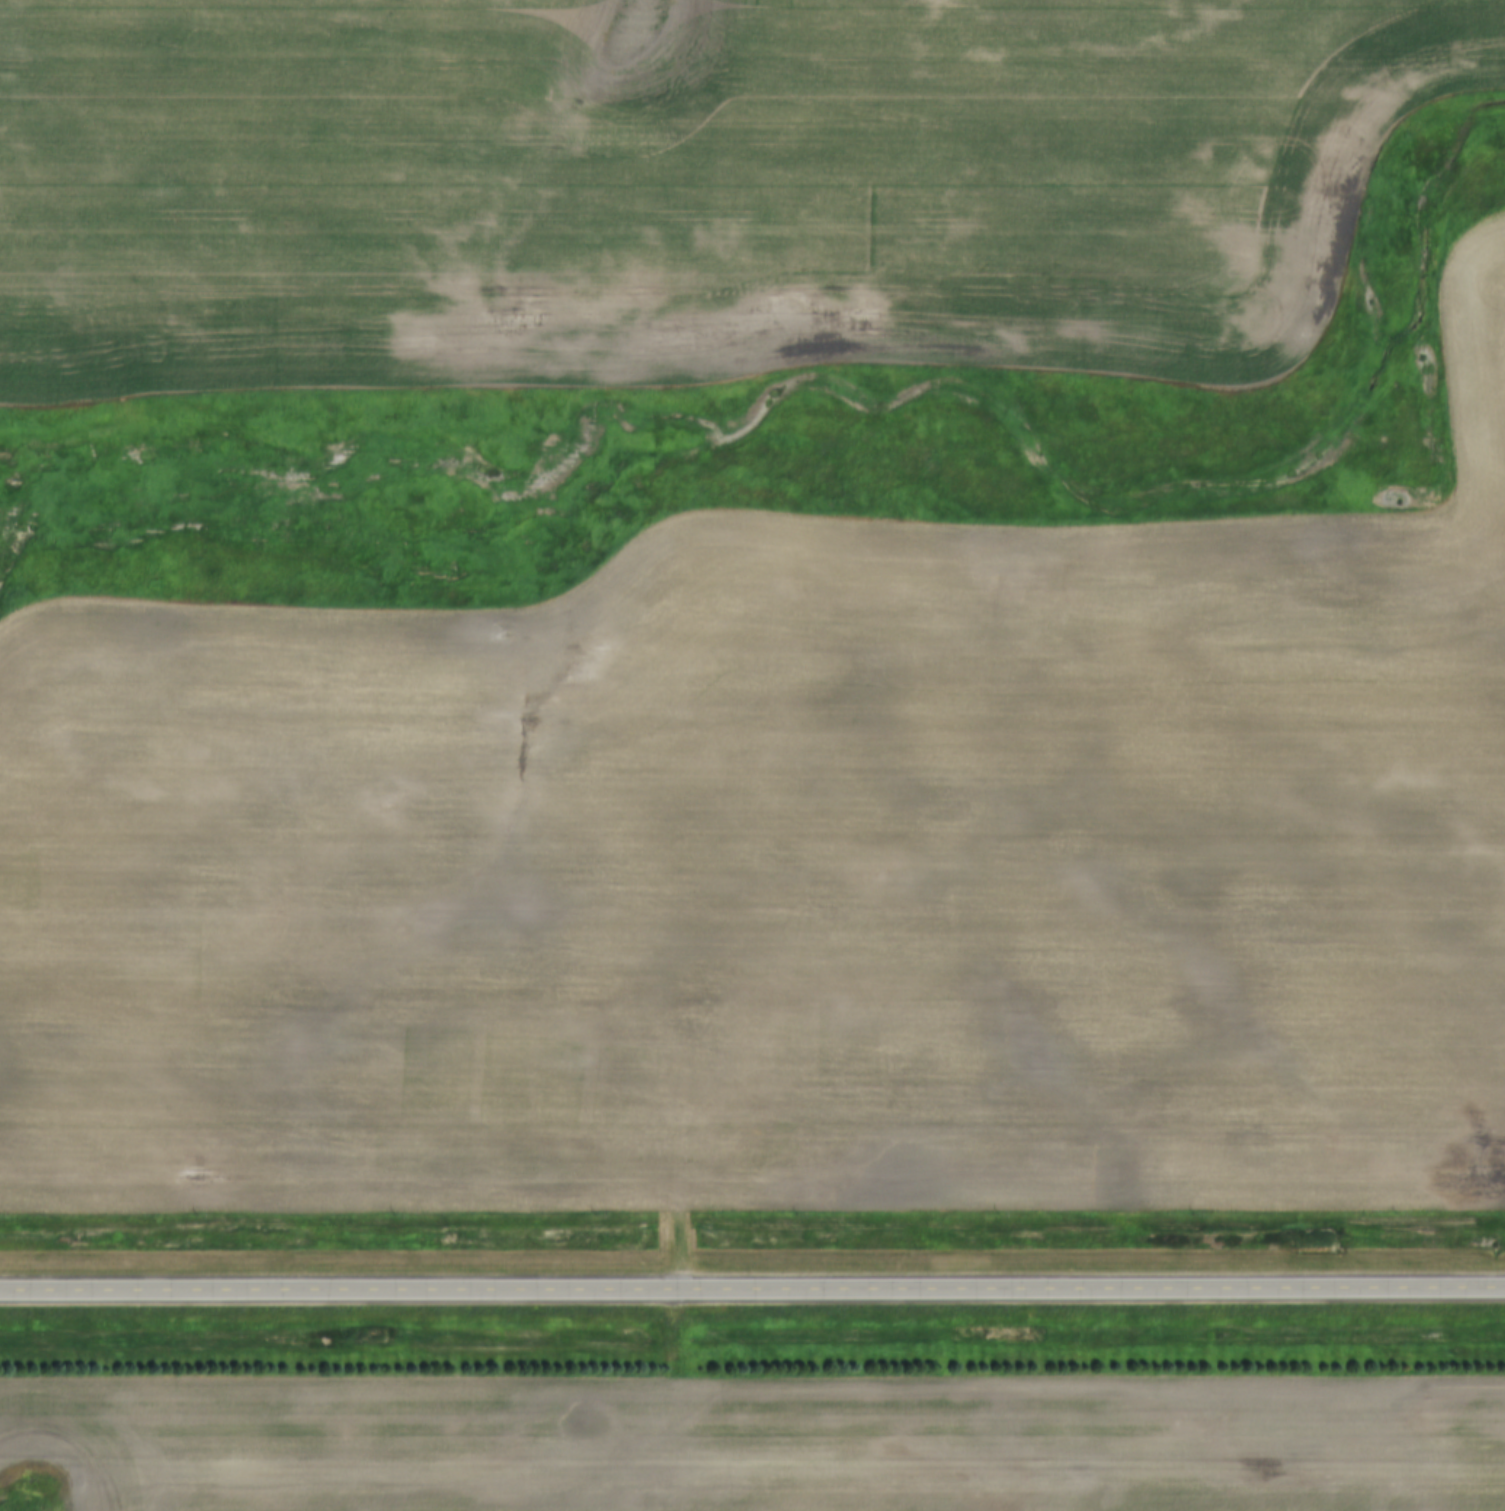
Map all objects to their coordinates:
road: (752, 1289)
road: (672, 1400)

